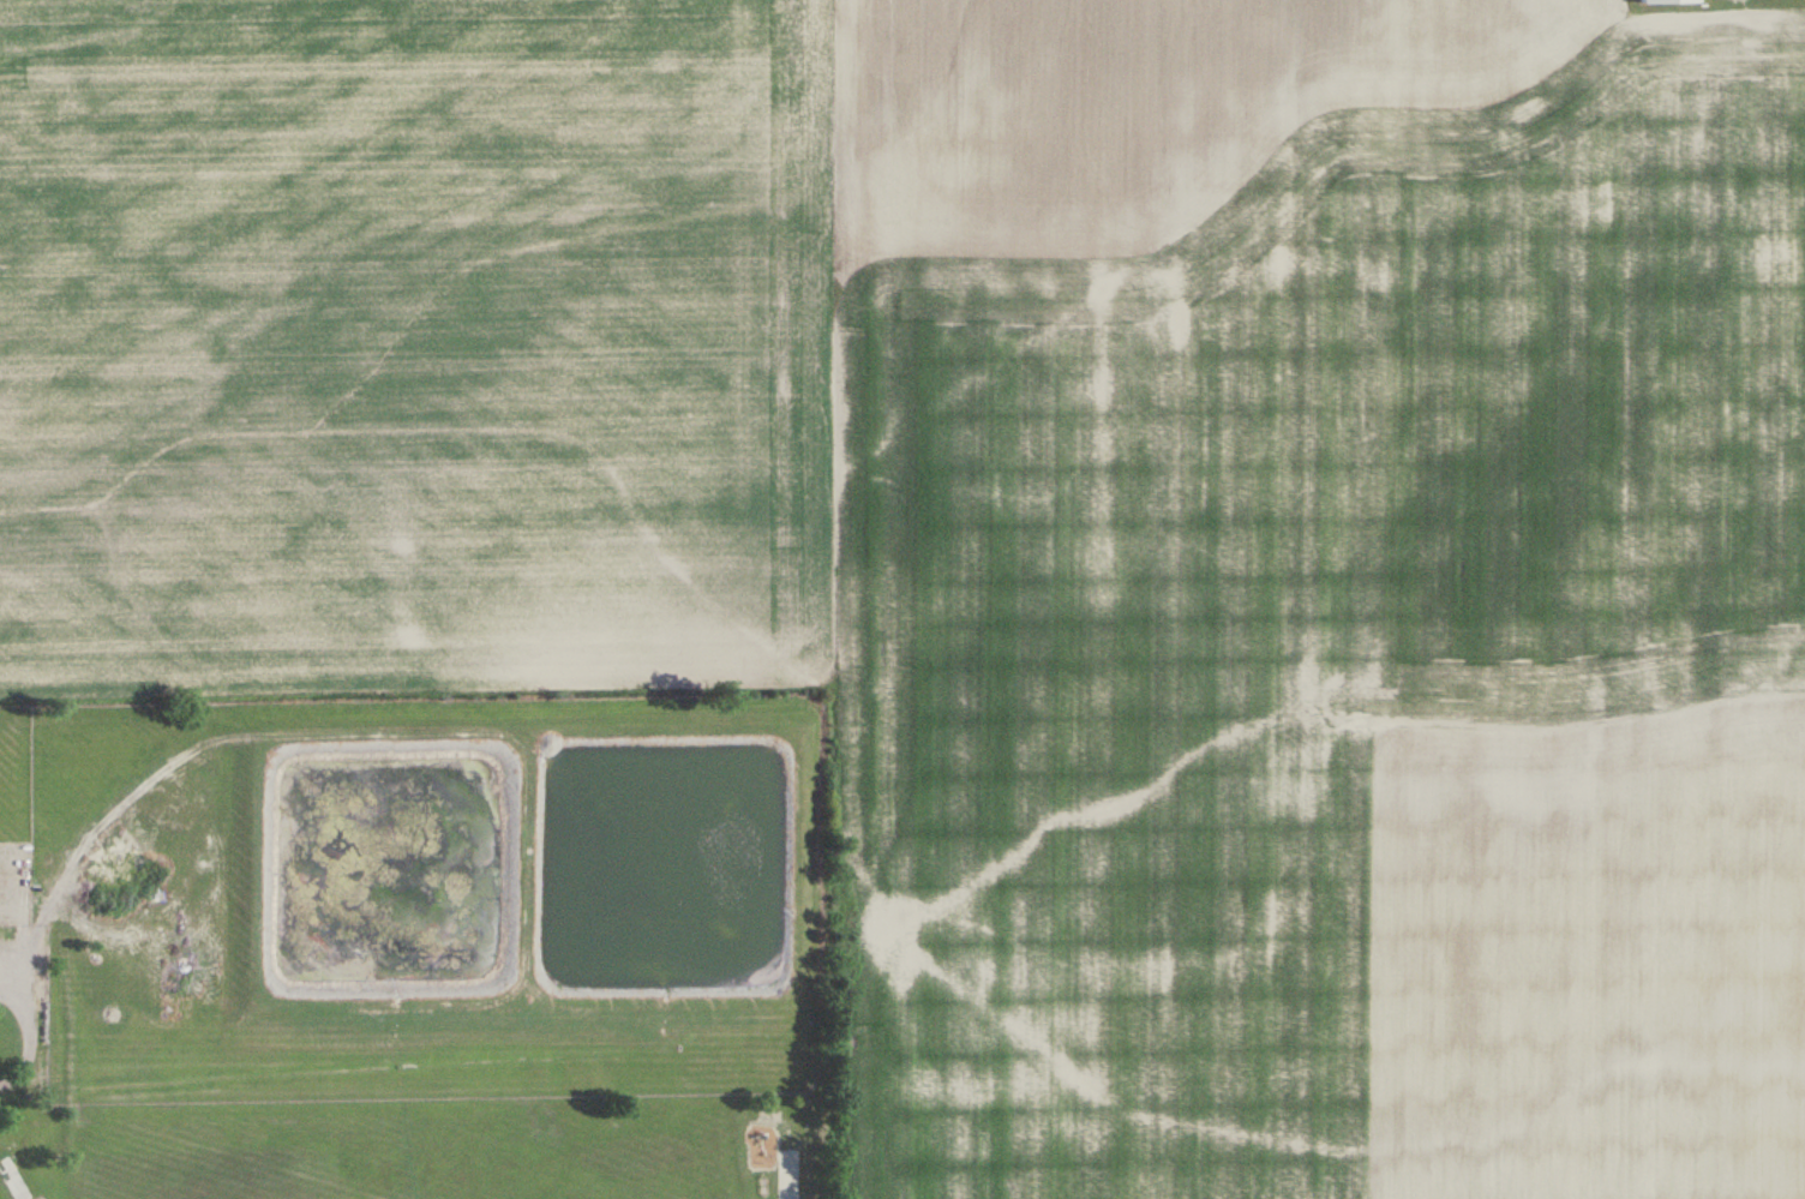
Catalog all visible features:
road: (29, 1041)
building: (19, 1175)

